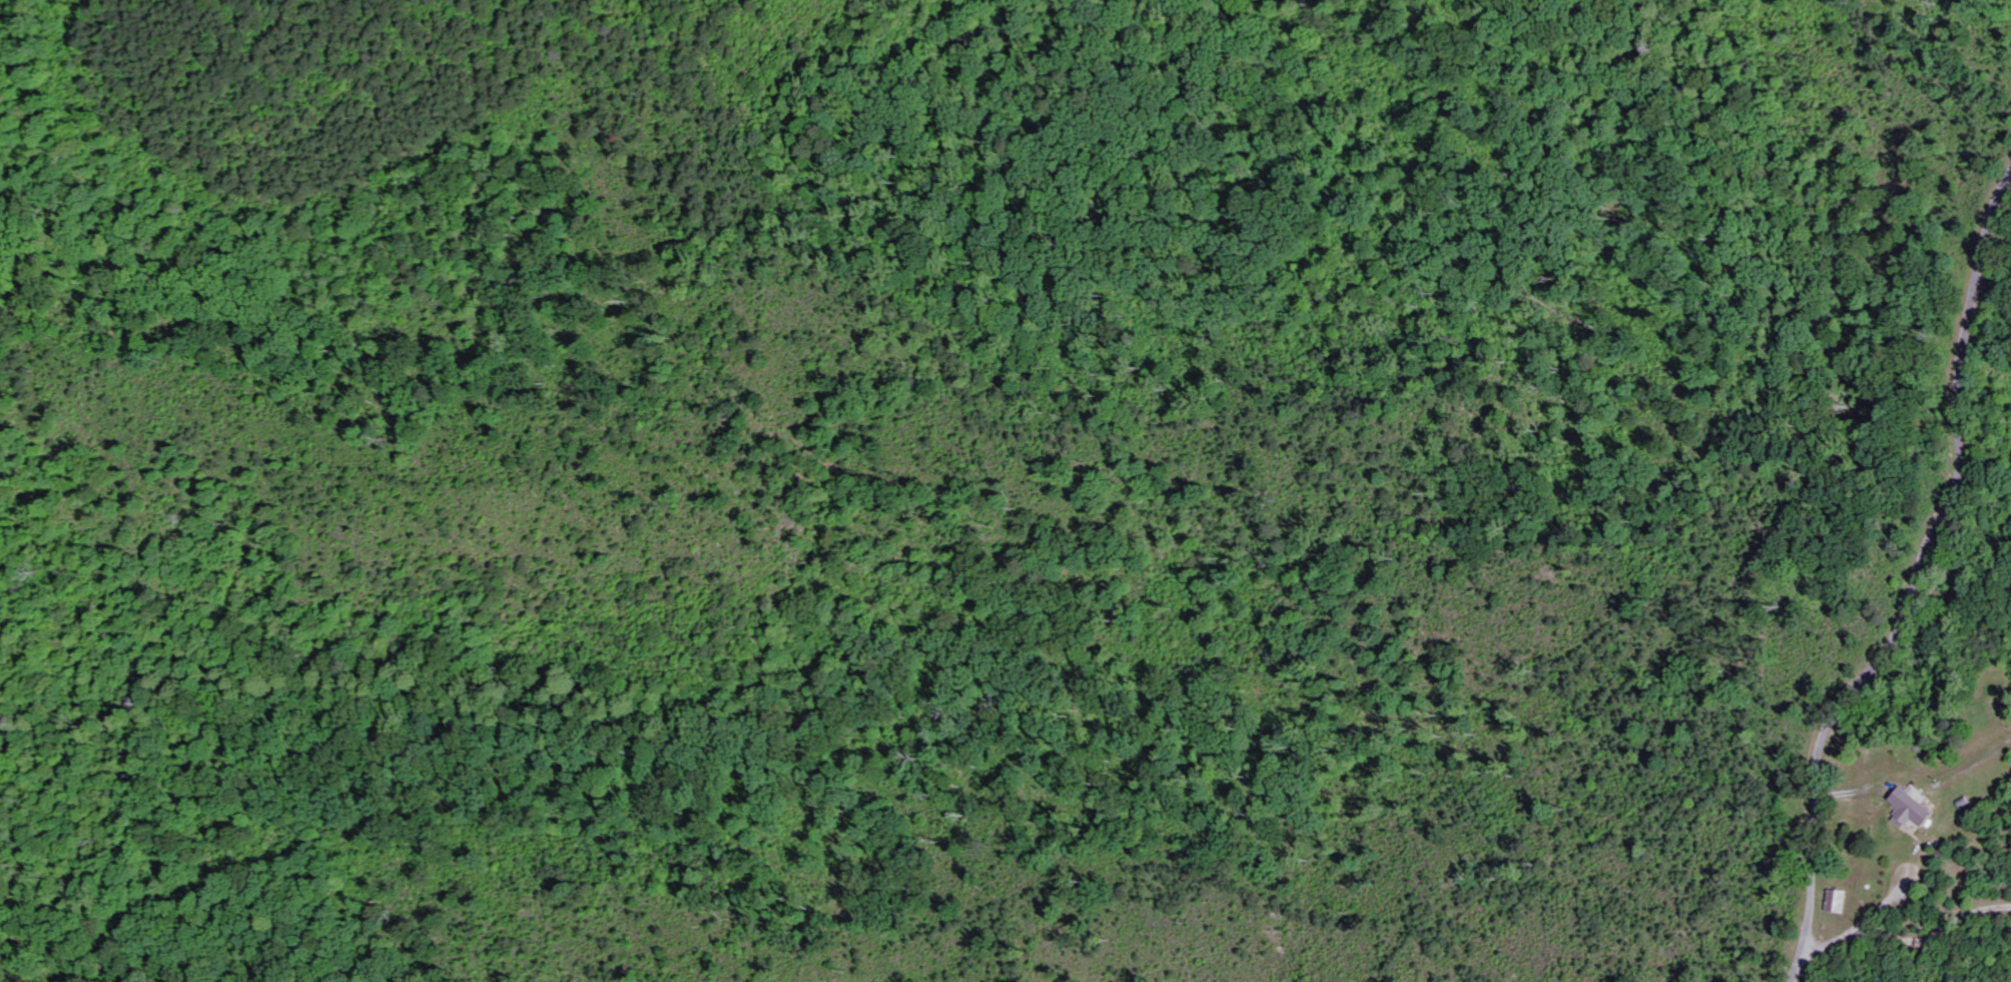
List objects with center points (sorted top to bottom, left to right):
road: (1914, 587)
road: (1908, 939)

